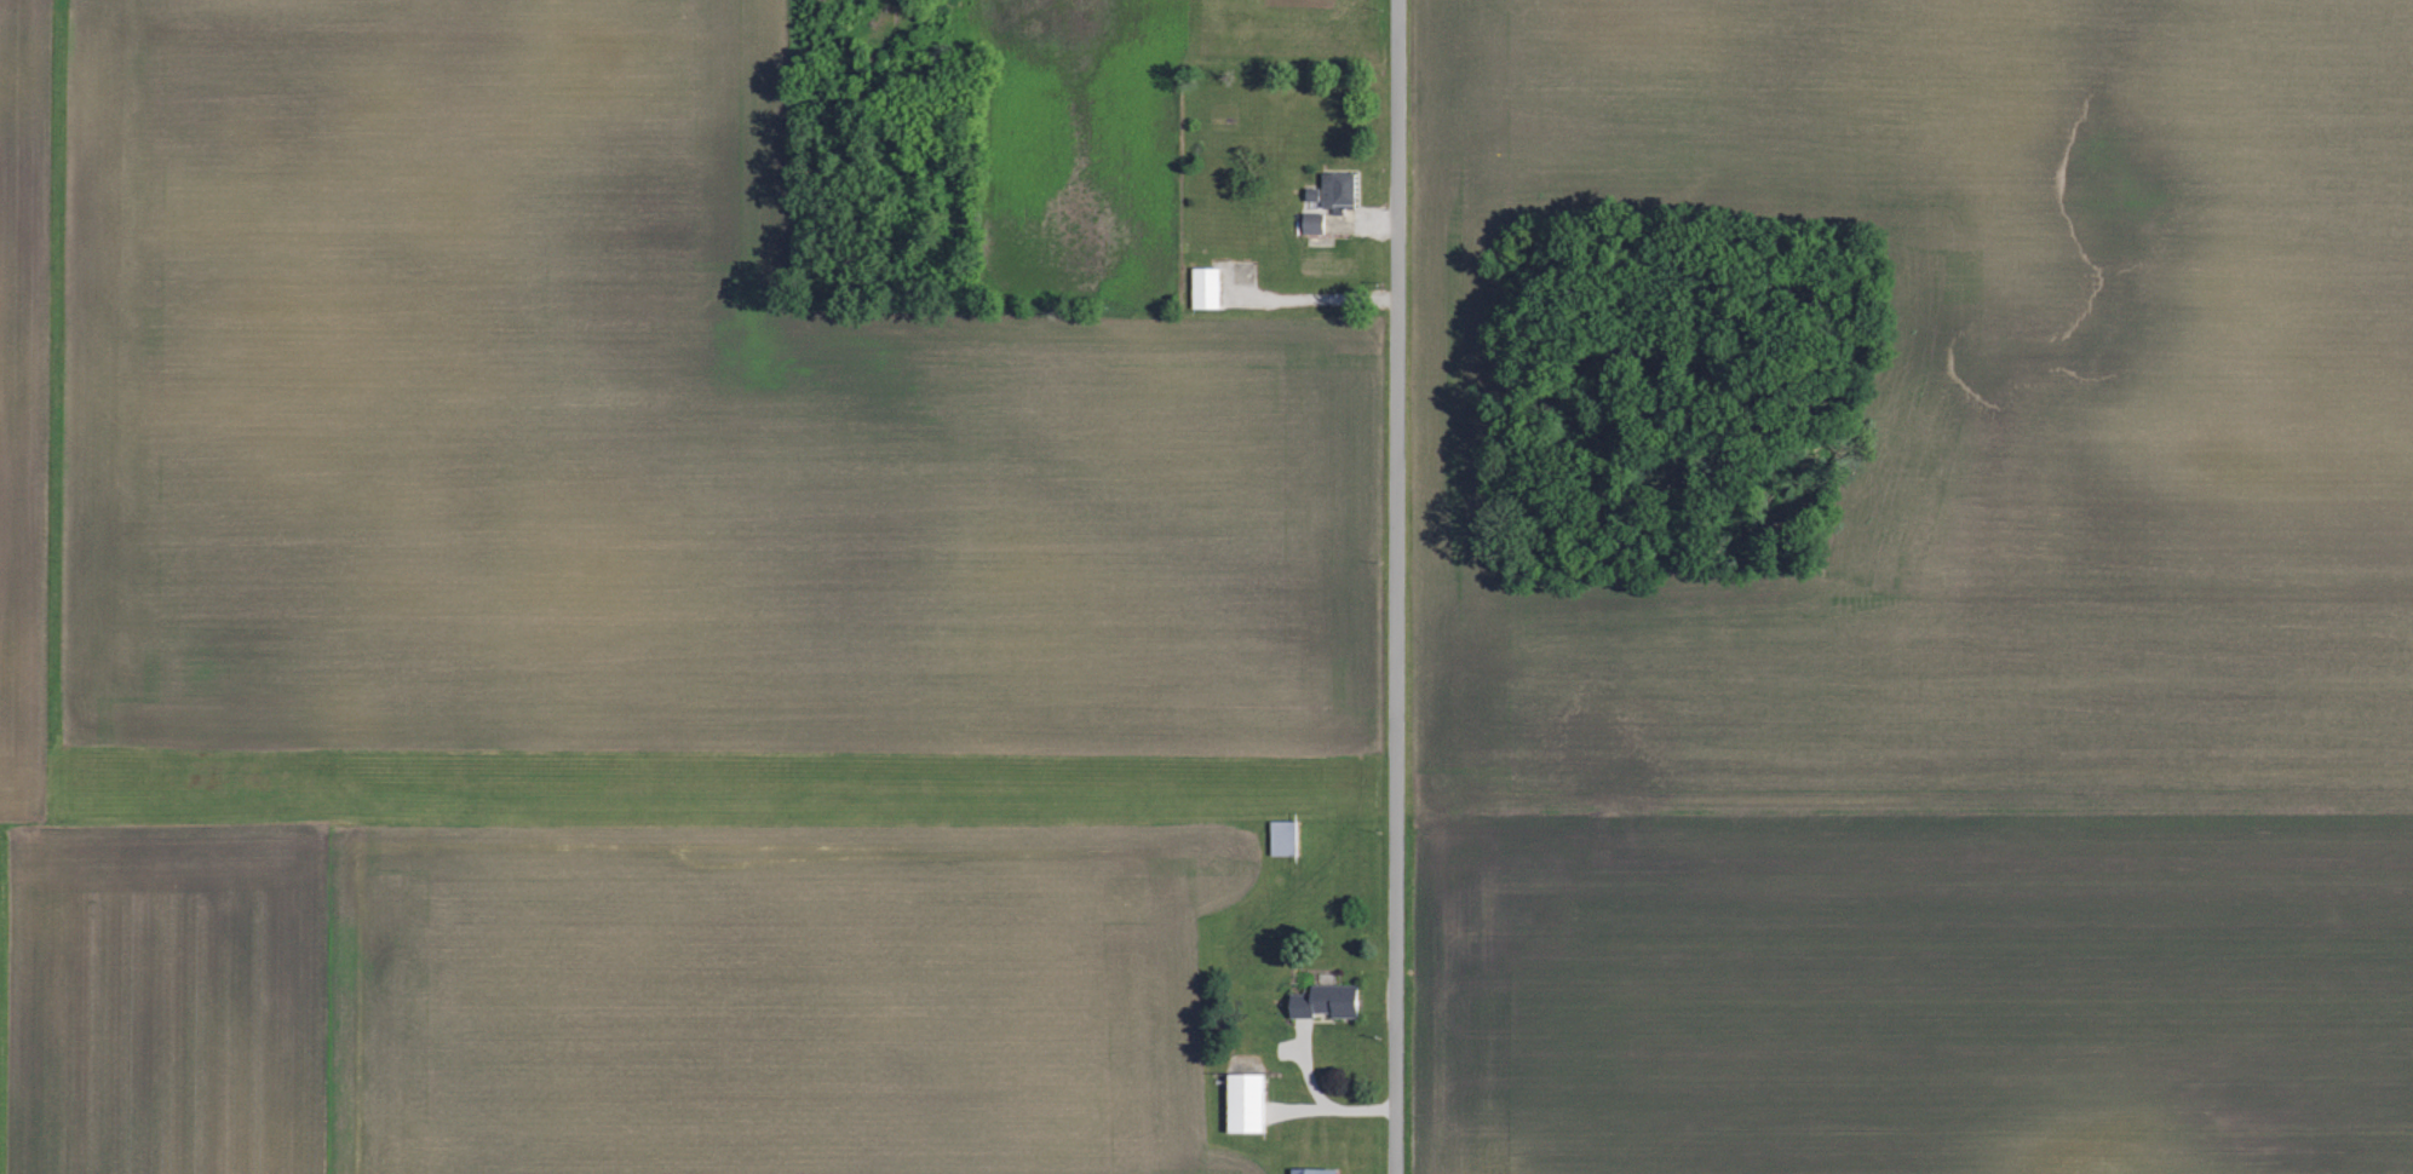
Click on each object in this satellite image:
building: (1334, 190)
building: (1312, 223)
building: (1205, 287)
road: (1398, 586)
airport runway: (711, 787)
airport: (732, 790)
airport taxiway: (1326, 823)
airport hangar: (1287, 838)
building: (1287, 838)
building: (1325, 1001)
building: (1245, 1103)
building: (1312, 1172)

